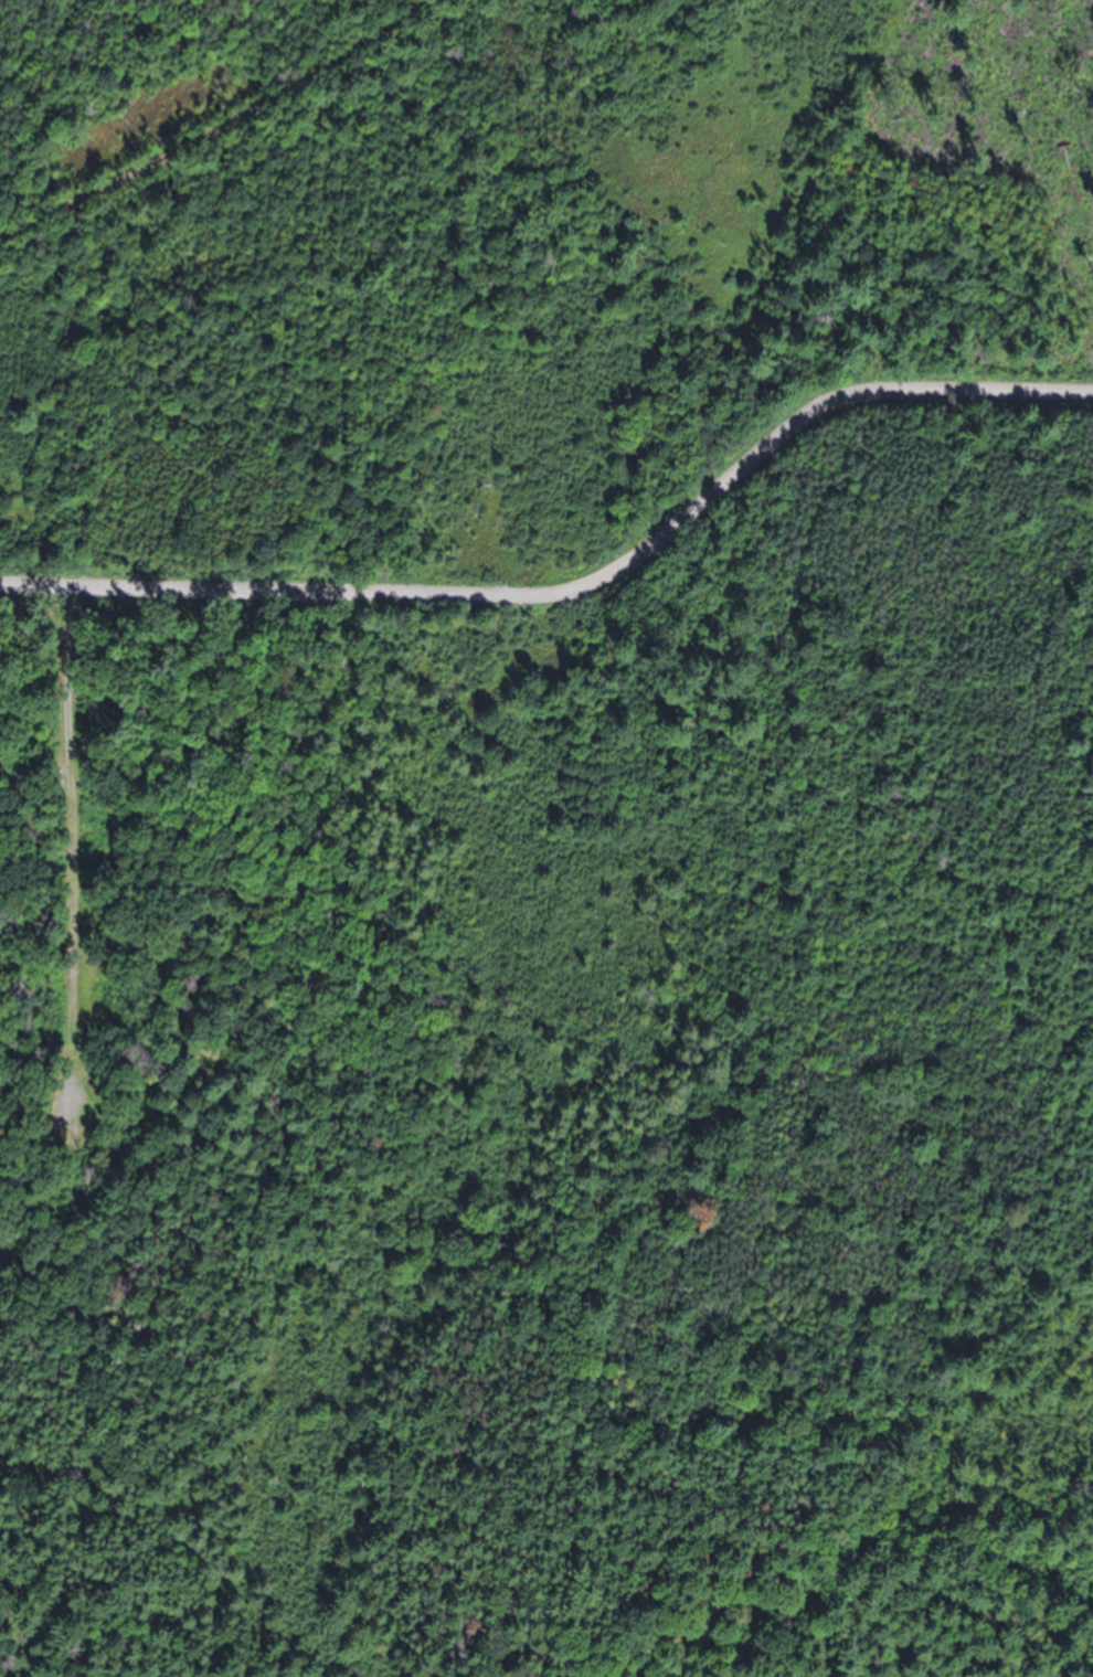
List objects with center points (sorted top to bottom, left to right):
road: (208, 120)
road: (579, 595)
road: (73, 845)

